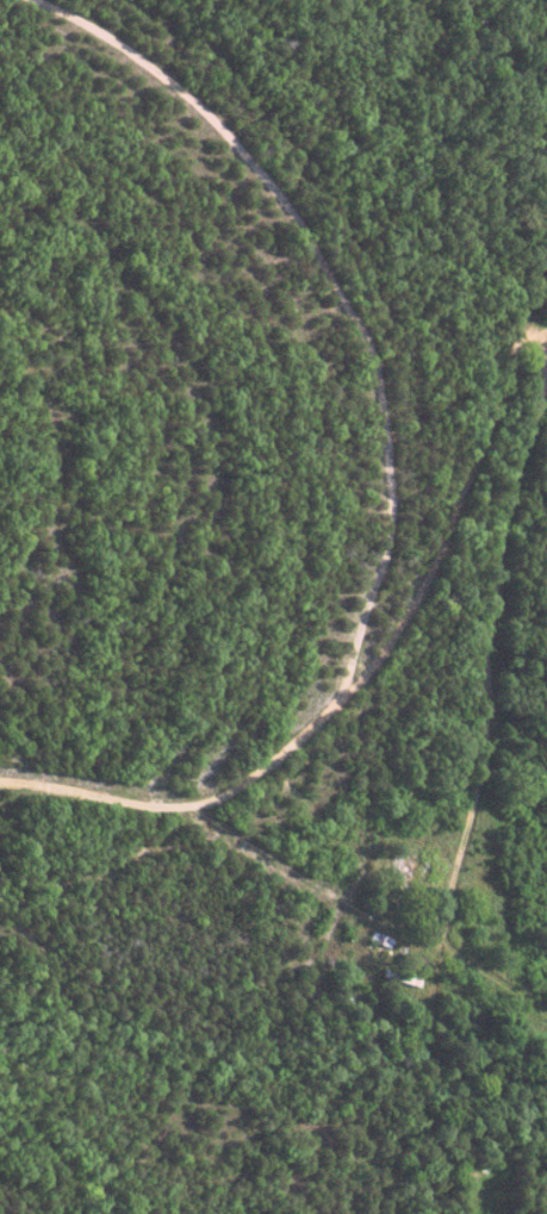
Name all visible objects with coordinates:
road: (495, 156)
road: (334, 287)
road: (541, 320)
road: (493, 664)
road: (362, 673)

